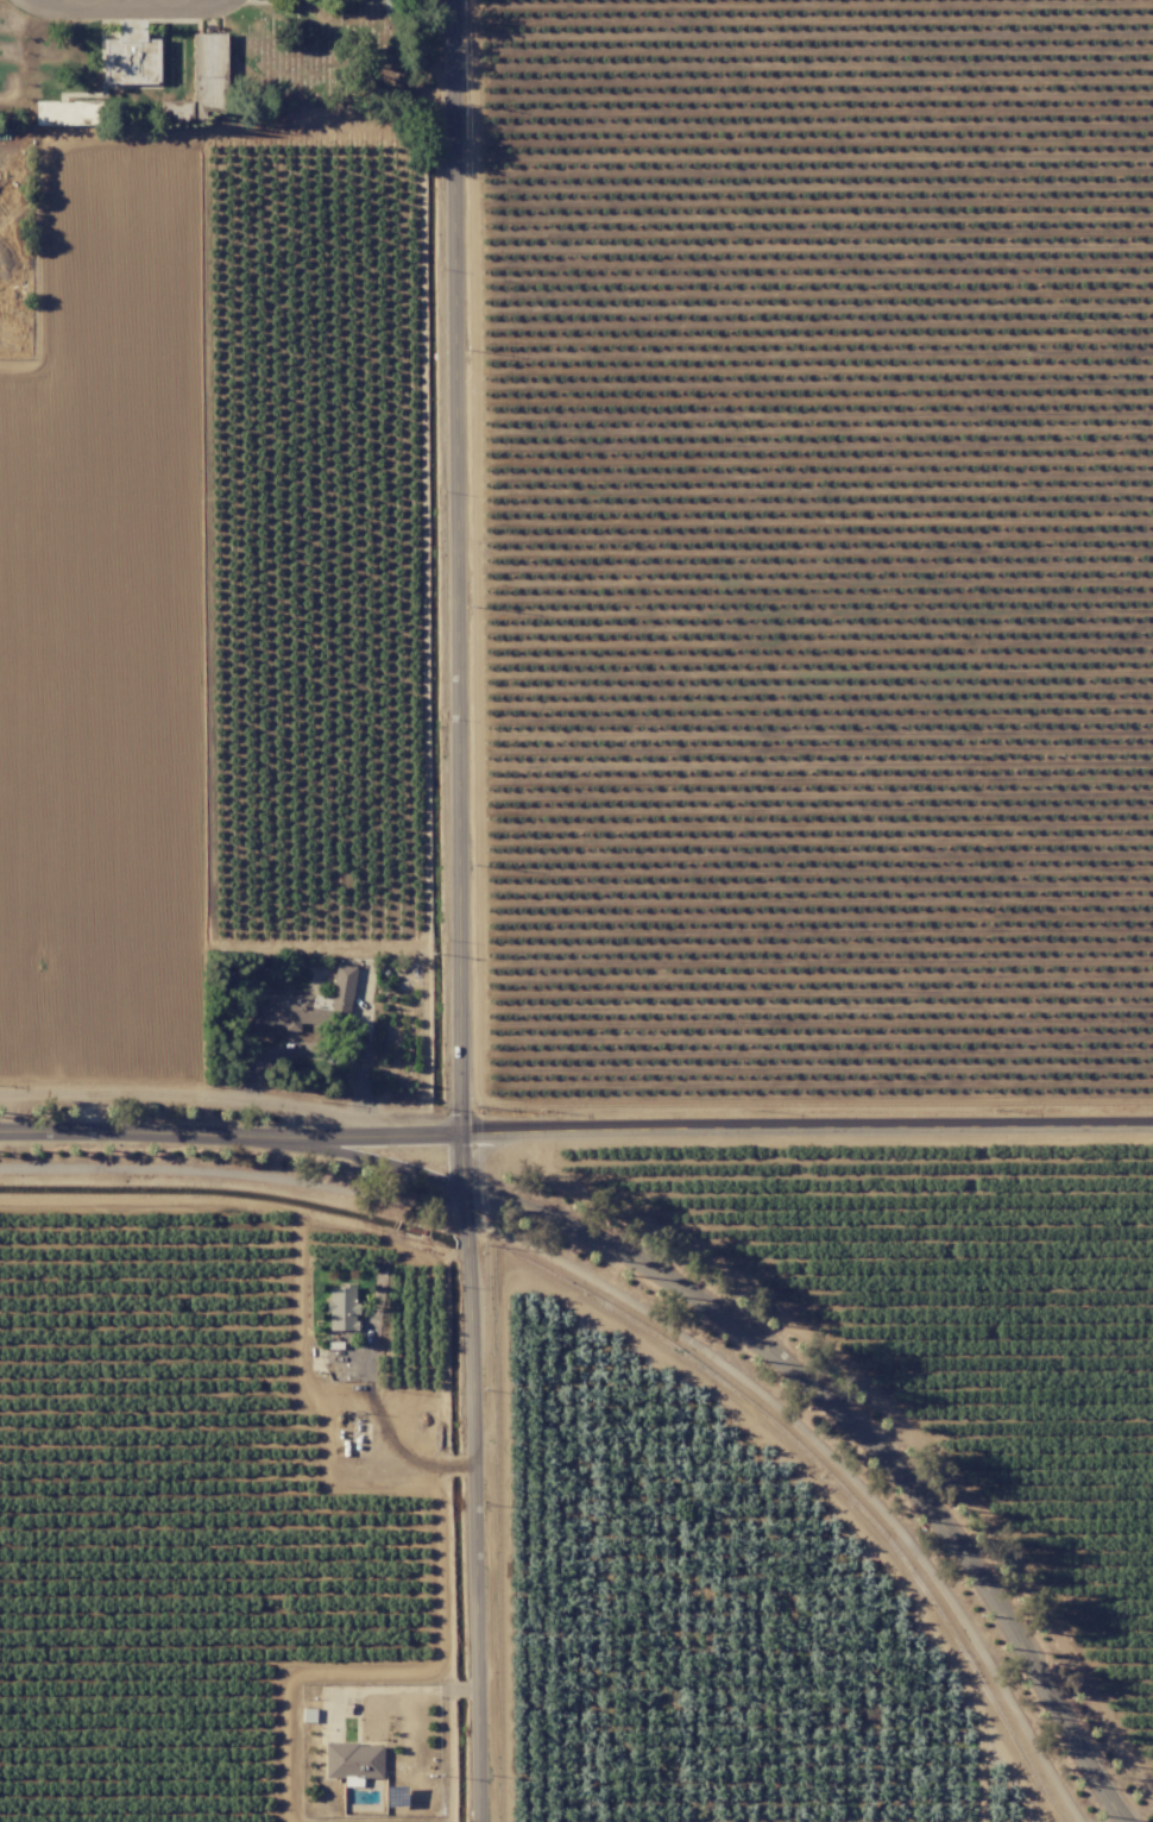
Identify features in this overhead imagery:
road: (131, 8)
building: (130, 56)
park: (220, 62)
building: (208, 69)
building: (65, 112)
crop: (103, 244)
road: (454, 566)
crop: (105, 721)
building: (308, 1005)
road: (199, 1095)
road: (806, 1130)
road: (377, 1133)
road: (147, 1136)
road: (461, 1158)
road: (379, 1161)
road: (603, 1242)
building: (341, 1307)
crop: (209, 1485)
road: (473, 1502)
road: (957, 1547)
crop: (699, 1597)
road: (470, 1685)
road: (379, 1686)
road: (459, 1686)
building: (352, 1761)

